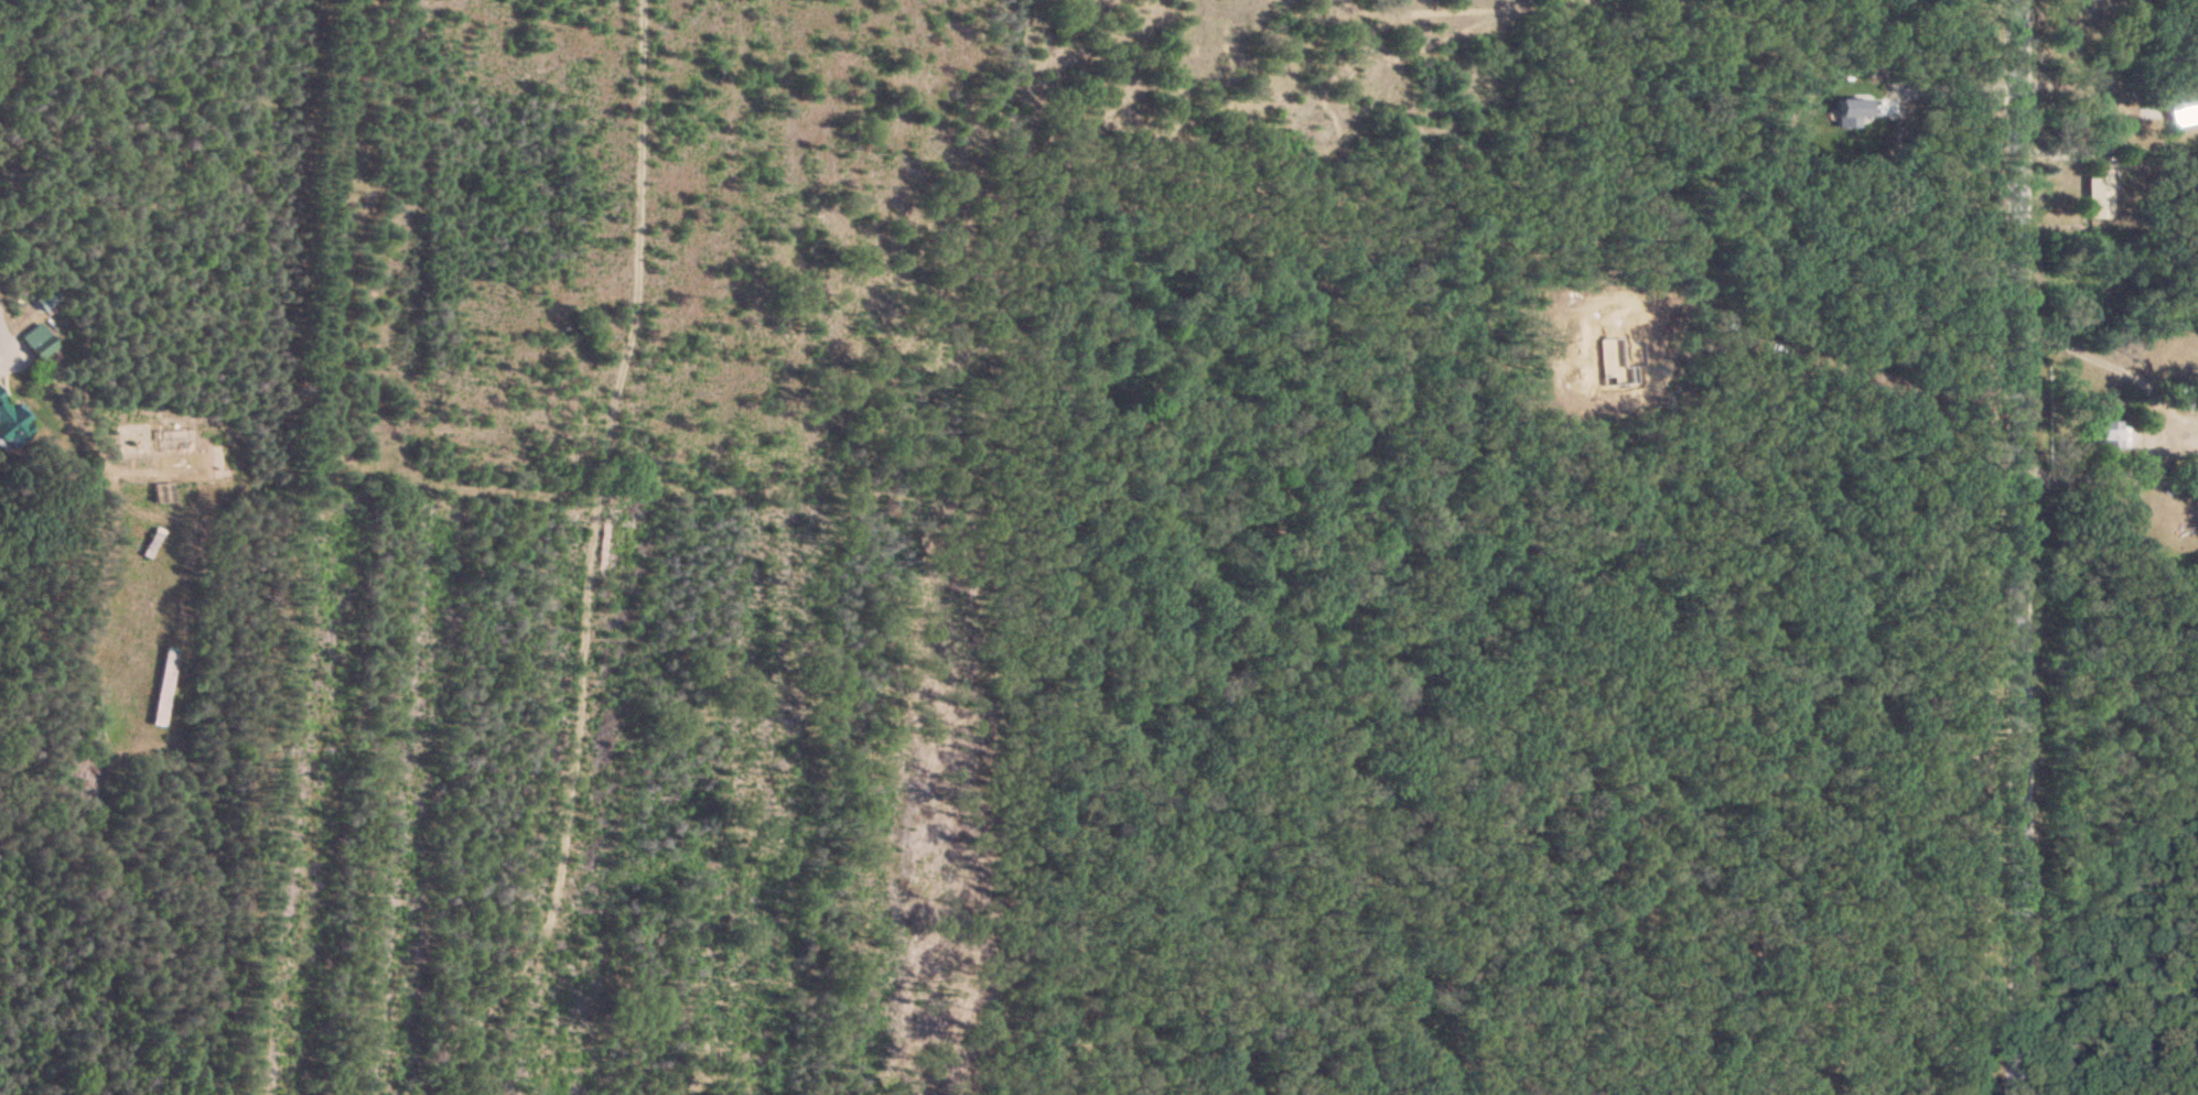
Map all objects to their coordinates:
road: (20, 37)
building: (2179, 105)
building: (2095, 195)
building: (37, 340)
road: (2114, 367)
building: (2191, 398)
building: (11, 423)
building: (2109, 435)
building: (131, 441)
building: (171, 443)
road: (2099, 470)
road: (2001, 547)
building: (160, 689)

